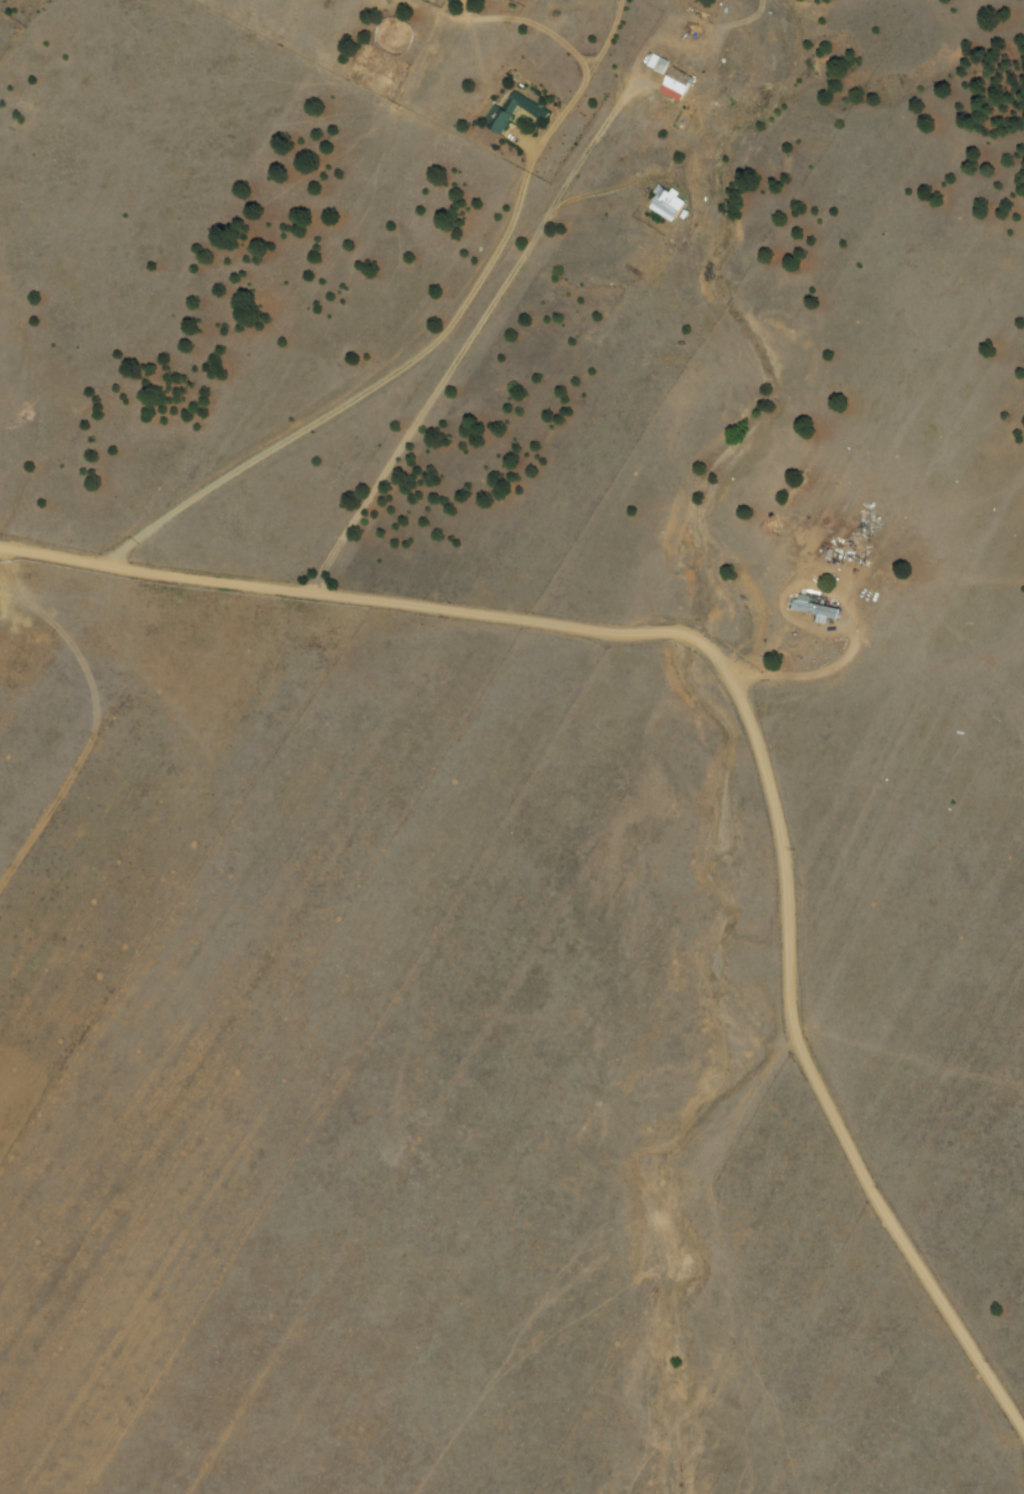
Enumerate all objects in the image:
building: (673, 84)
building: (536, 112)
building: (666, 205)
road: (383, 384)
building: (812, 608)
road: (753, 712)

